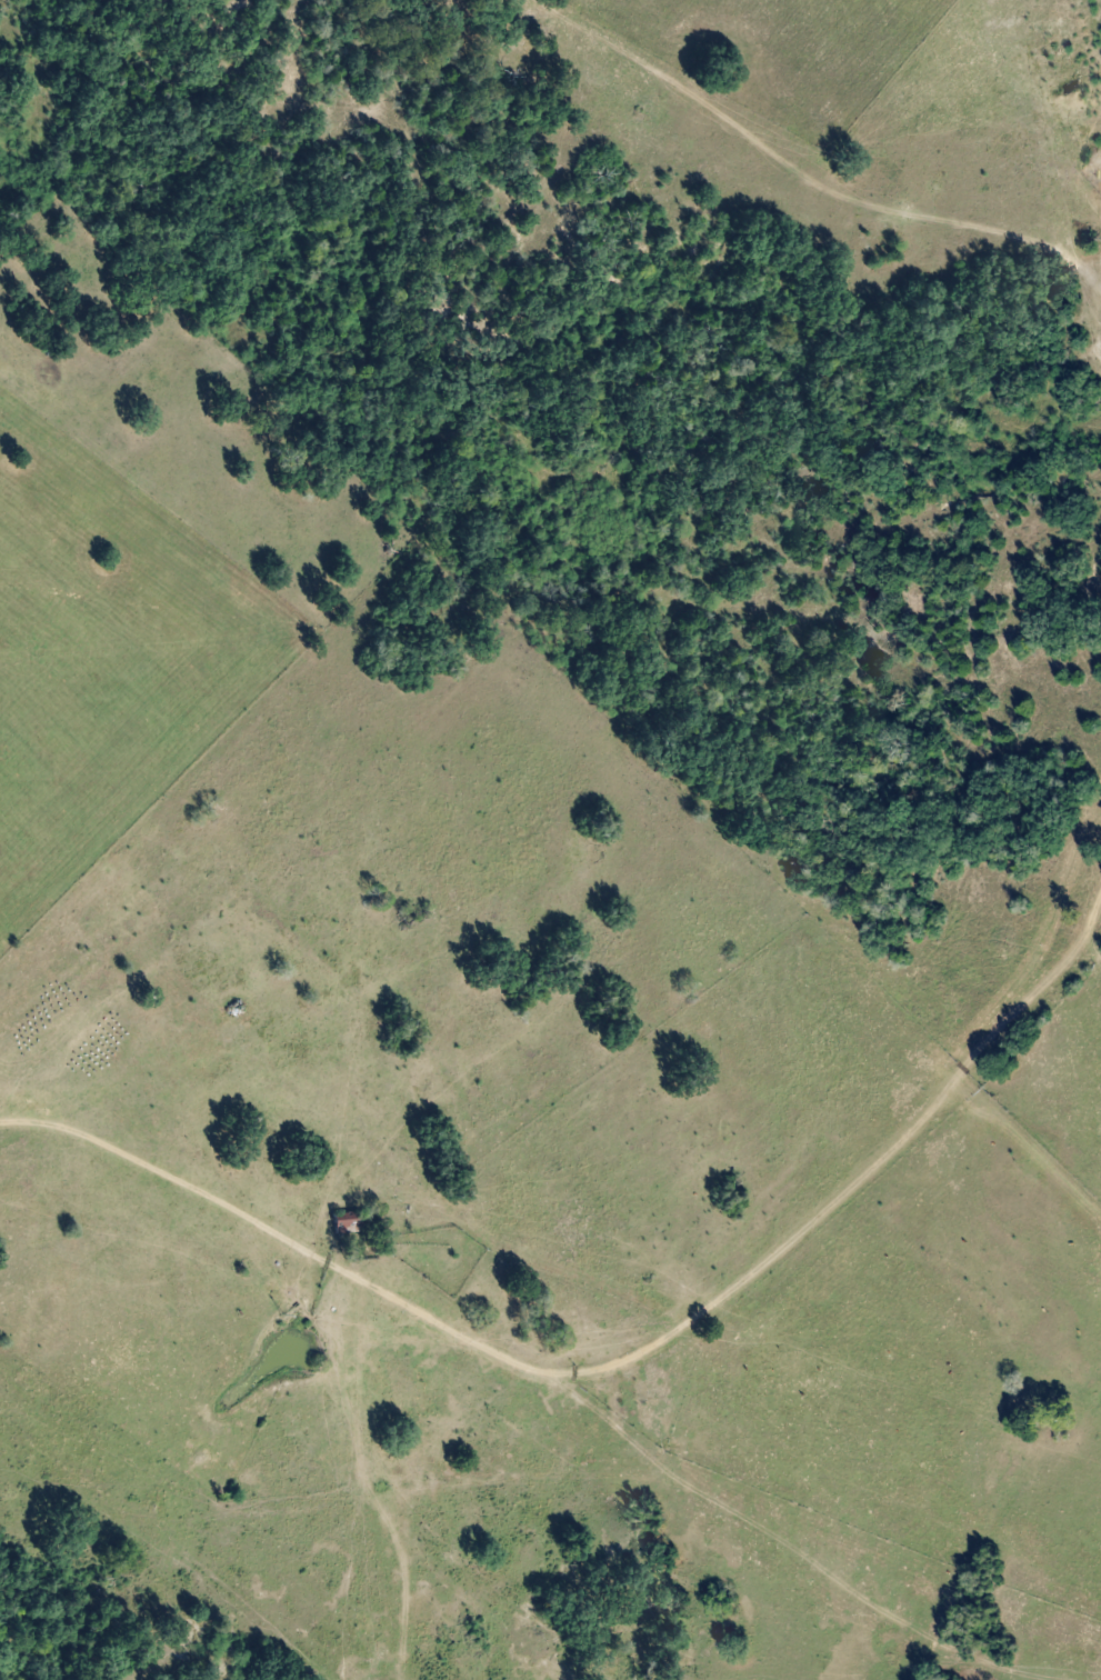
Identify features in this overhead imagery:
building: (346, 1221)

